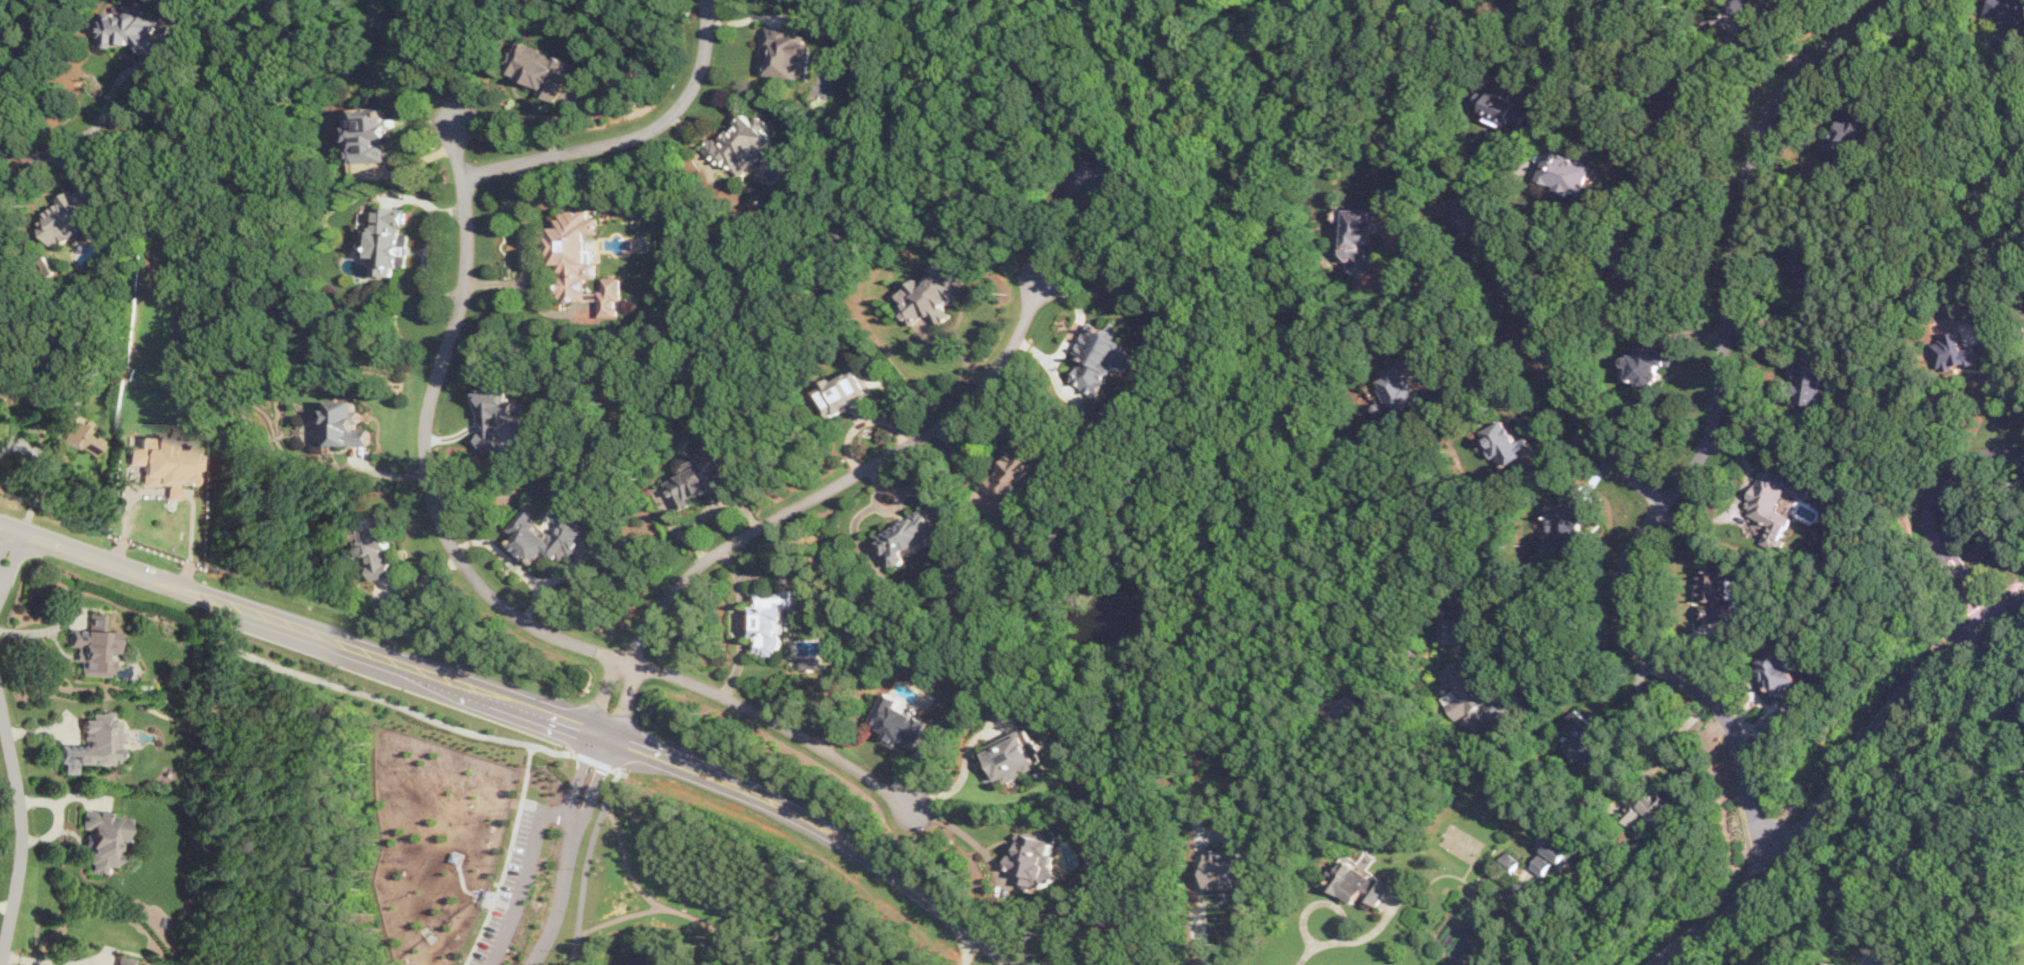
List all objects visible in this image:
building: (1738, 5)
building: (2007, 16)
building: (129, 28)
building: (788, 52)
road: (409, 57)
building: (537, 66)
building: (1678, 92)
road: (109, 97)
building: (1507, 103)
road: (1714, 123)
building: (370, 132)
road: (631, 136)
building: (1843, 136)
building: (741, 143)
road: (26, 154)
building: (1565, 172)
building: (1094, 177)
road: (1504, 183)
building: (66, 217)
road: (1048, 229)
road: (1393, 235)
building: (389, 240)
building: (1360, 240)
road: (524, 248)
building: (579, 261)
building: (1806, 265)
building: (1629, 272)
building: (934, 293)
road: (1578, 304)
building: (1956, 351)
building: (1102, 356)
road: (2006, 357)
road: (1550, 361)
building: (1647, 364)
road: (1489, 377)
building: (1405, 380)
building: (1810, 383)
building: (846, 391)
road: (428, 414)
building: (1105, 415)
building: (504, 416)
building: (346, 424)
road: (1710, 436)
building: (80, 437)
building: (1507, 441)
road: (22, 443)
building: (161, 464)
road: (862, 469)
building: (1015, 474)
building: (702, 478)
road: (1734, 502)
building: (1774, 503)
road: (1927, 513)
building: (1566, 526)
building: (908, 534)
building: (546, 537)
building: (373, 545)
road: (8, 553)
road: (513, 562)
building: (1714, 595)
building: (769, 618)
road: (741, 622)
building: (1452, 631)
building: (94, 646)
road: (637, 646)
road: (1499, 654)
road: (631, 661)
road: (1564, 664)
building: (1777, 672)
road: (607, 691)
building: (1466, 694)
road: (626, 698)
road: (399, 704)
building: (1339, 704)
road: (528, 705)
building: (899, 718)
road: (799, 734)
building: (1583, 739)
building: (92, 743)
road: (1662, 749)
building: (1015, 754)
road: (595, 756)
road: (631, 770)
road: (578, 773)
road: (597, 779)
road: (1837, 780)
road: (526, 782)
building: (1591, 799)
building: (1653, 809)
road: (20, 834)
road: (969, 835)
building: (103, 838)
park: (476, 843)
building: (1553, 853)
building: (1032, 858)
building: (1508, 861)
road: (585, 863)
building: (1228, 870)
road: (525, 874)
building: (1357, 881)
road: (560, 893)
road: (1203, 898)
road: (654, 901)
road: (5, 906)
road: (619, 915)
road: (1541, 930)
road: (1344, 939)
road: (966, 946)
road: (0, 960)
road: (27, 961)
road: (88, 961)
building: (125, 961)
building: (1830, 963)

